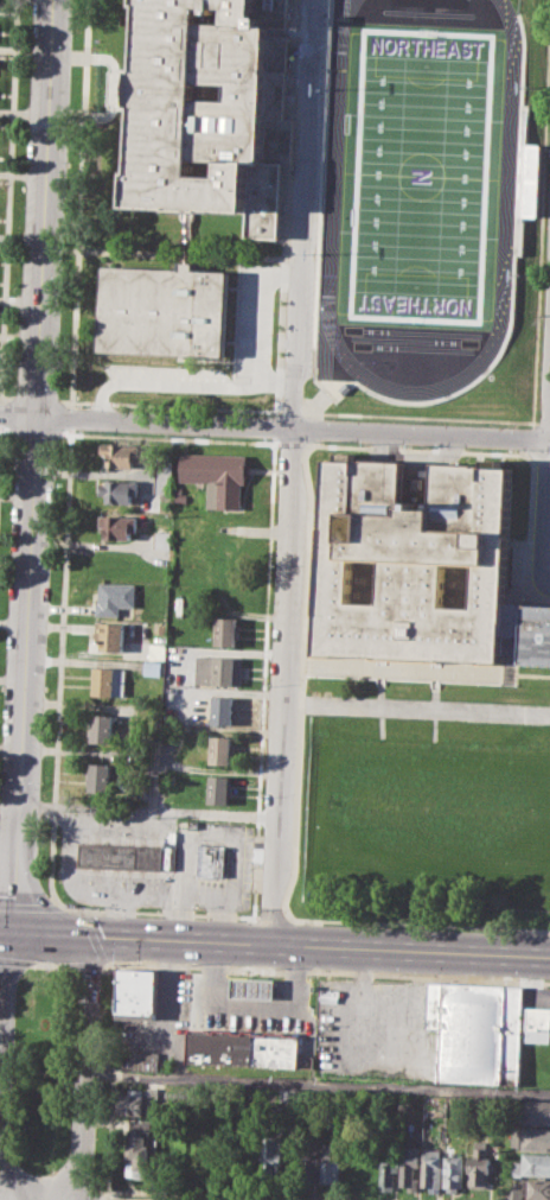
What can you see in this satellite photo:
parking lot: (469, 2)
road: (109, 84)
building: (216, 108)
parking lot: (303, 186)
road: (8, 201)
road: (81, 203)
road: (539, 214)
track: (500, 223)
road: (164, 250)
building: (166, 311)
road: (277, 335)
road: (5, 398)
road: (34, 398)
road: (168, 405)
road: (0, 407)
road: (289, 411)
road: (71, 415)
road: (417, 417)
road: (543, 420)
road: (274, 425)
road: (274, 425)
road: (549, 426)
road: (4, 430)
road: (30, 431)
road: (166, 438)
road: (525, 438)
road: (294, 443)
road: (311, 443)
road: (539, 452)
building: (122, 453)
road: (527, 456)
road: (36, 466)
road: (549, 469)
road: (292, 471)
building: (217, 475)
building: (164, 477)
building: (119, 489)
building: (181, 494)
road: (544, 513)
building: (117, 525)
parking lot: (539, 527)
road: (529, 532)
building: (161, 538)
building: (116, 561)
building: (423, 569)
road: (306, 573)
building: (113, 597)
building: (225, 630)
building: (110, 635)
building: (156, 650)
road: (60, 666)
building: (152, 668)
road: (416, 668)
building: (218, 671)
road: (262, 675)
building: (107, 681)
road: (379, 703)
road: (434, 704)
building: (222, 709)
building: (101, 728)
building: (219, 749)
building: (100, 776)
building: (219, 788)
road: (139, 809)
park: (426, 812)
building: (121, 855)
building: (212, 859)
road: (28, 904)
road: (155, 912)
road: (271, 918)
road: (418, 923)
road: (4, 933)
traffic signals: (8, 934)
road: (95, 935)
traffic signals: (89, 938)
road: (279, 944)
road: (15, 961)
road: (45, 964)
road: (79, 964)
road: (325, 972)
building: (254, 986)
gas station: (254, 986)
building: (137, 992)
road: (4, 1020)
building: (537, 1023)
building: (478, 1028)
building: (276, 1049)
building: (142, 1060)
road: (0, 1064)
road: (84, 1072)
road: (110, 1078)
road: (316, 1081)
building: (139, 1101)
building: (537, 1111)
building: (142, 1125)
building: (533, 1137)
building: (274, 1147)
building: (143, 1155)
building: (332, 1162)
building: (532, 1163)
building: (409, 1166)
building: (480, 1167)
building: (311, 1168)
building: (431, 1168)
building: (388, 1169)
building: (453, 1172)
road: (15, 1181)
building: (537, 1187)
road: (228, 1194)
road: (105, 1198)
road: (8, 1199)

